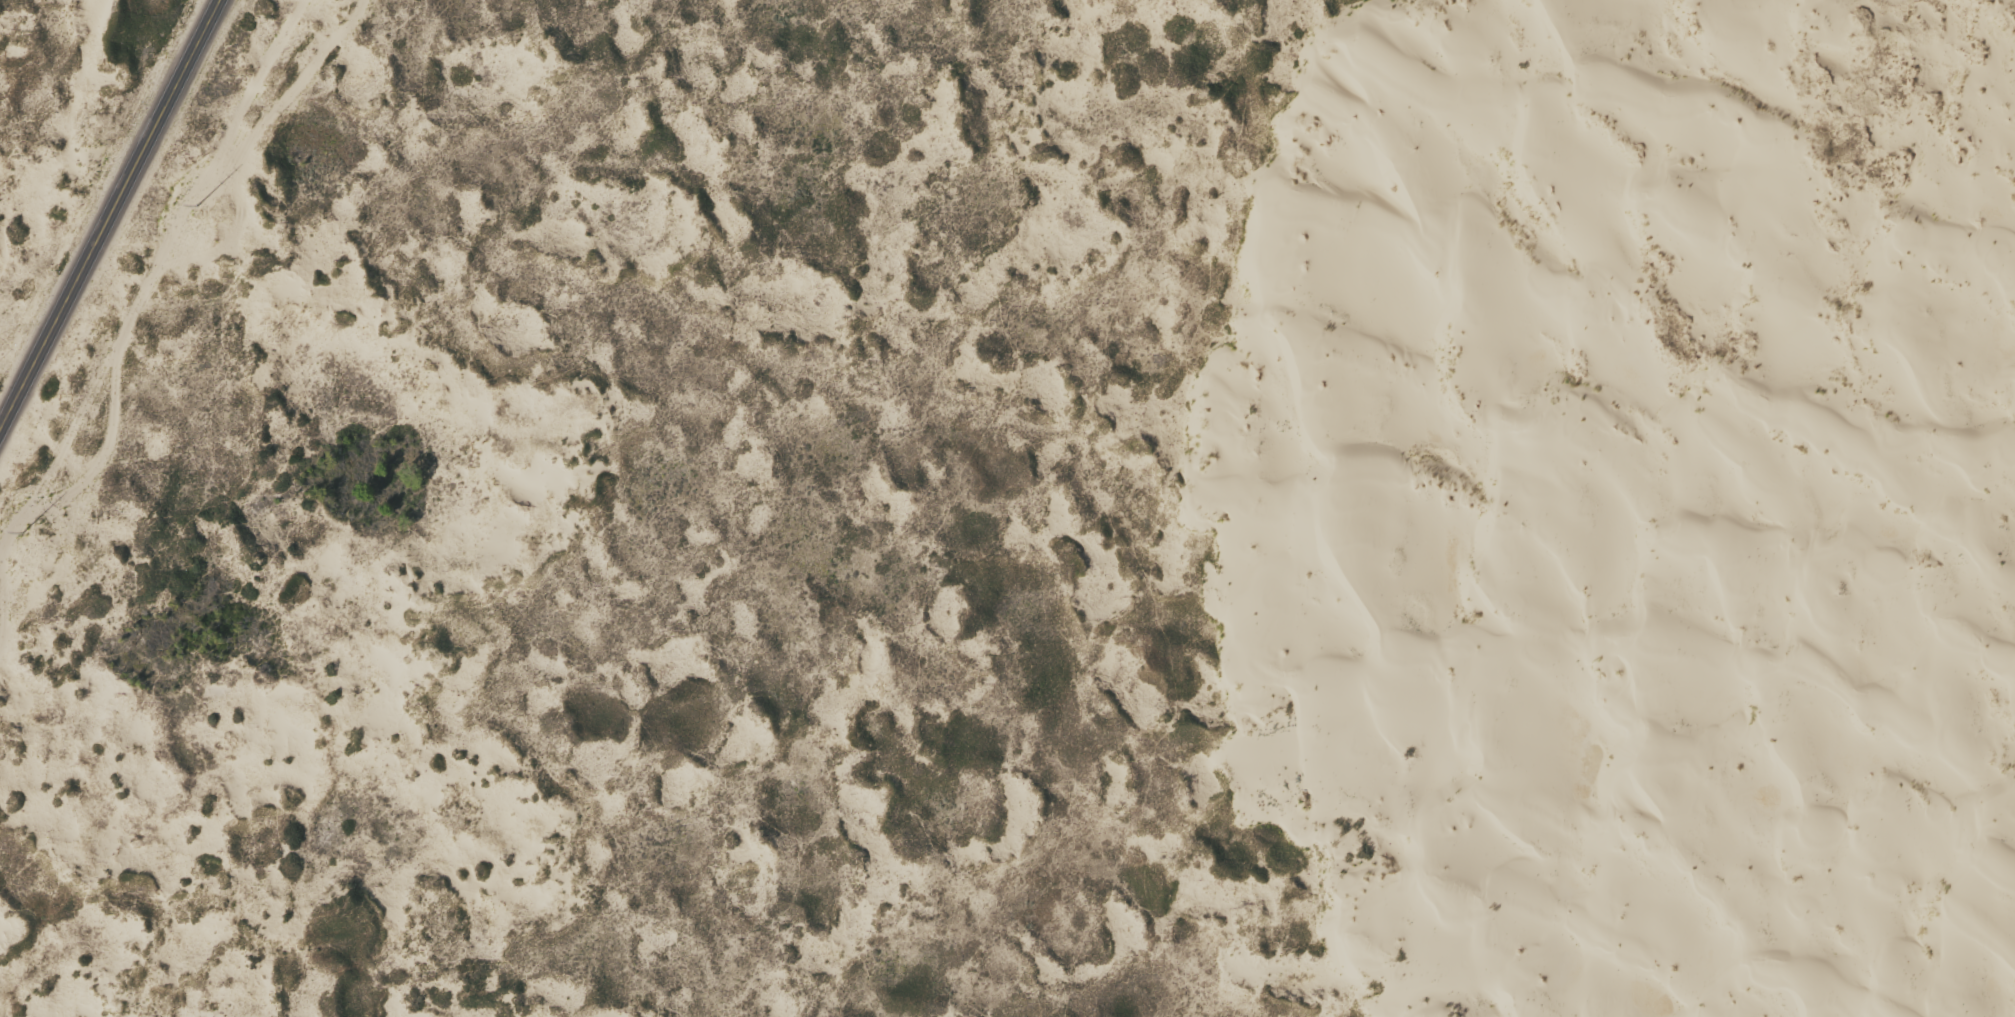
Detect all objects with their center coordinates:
road: (112, 215)
power tower: (211, 226)
power tower: (34, 555)

